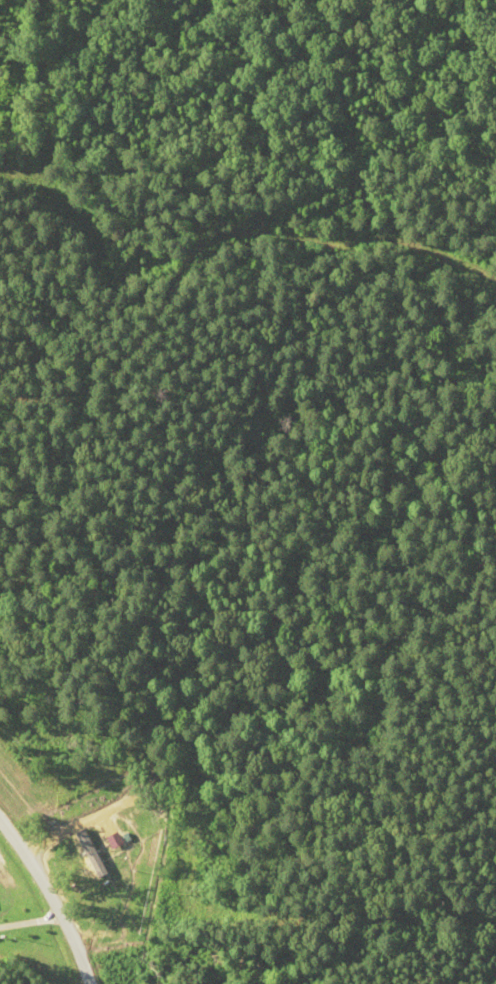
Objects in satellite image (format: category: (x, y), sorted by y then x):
building: (93, 848)
road: (56, 898)

